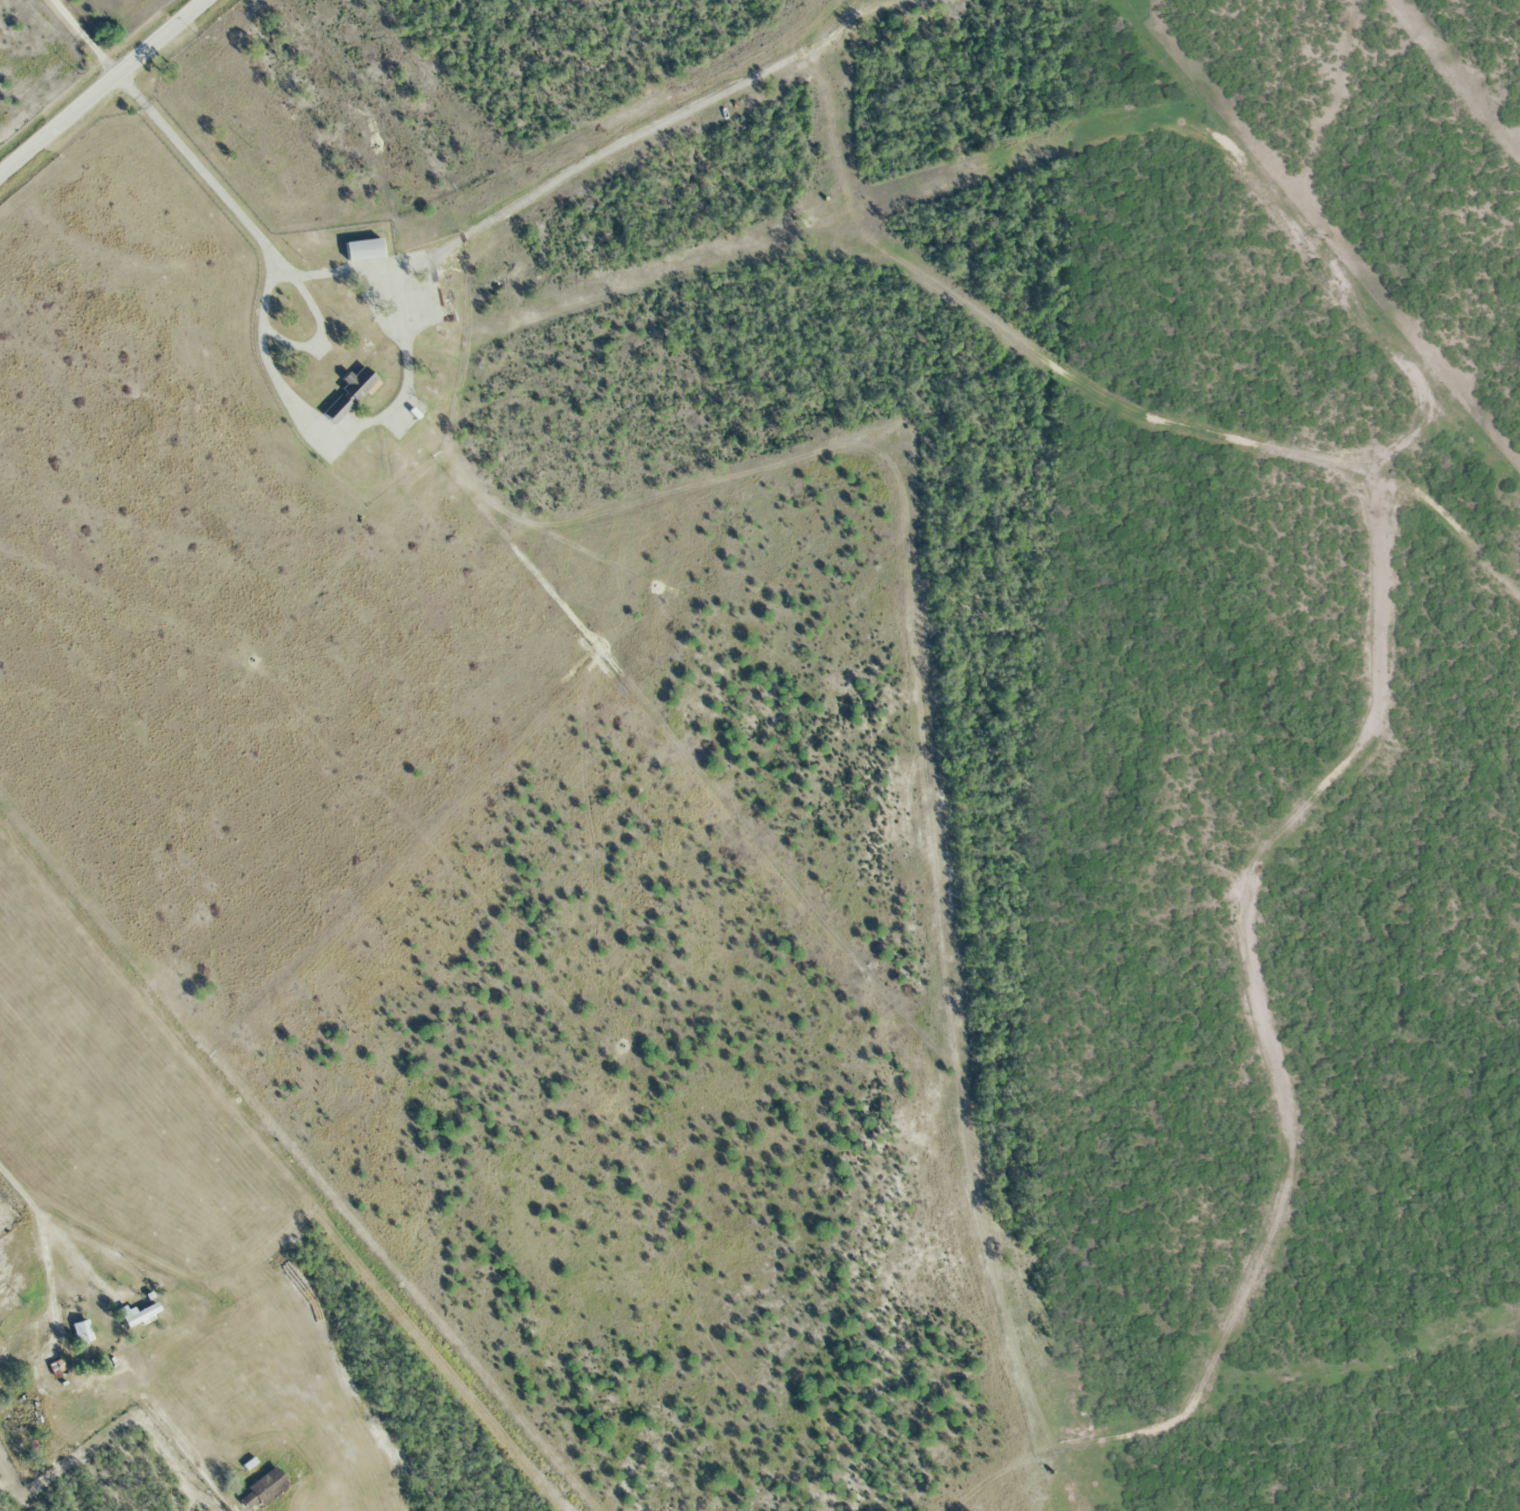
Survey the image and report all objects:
road: (84, 36)
road: (100, 85)
power tower: (1325, 239)
building: (361, 249)
building: (355, 384)
road: (288, 397)
road: (42, 1233)
building: (137, 1315)
building: (81, 1333)
building: (266, 1487)

